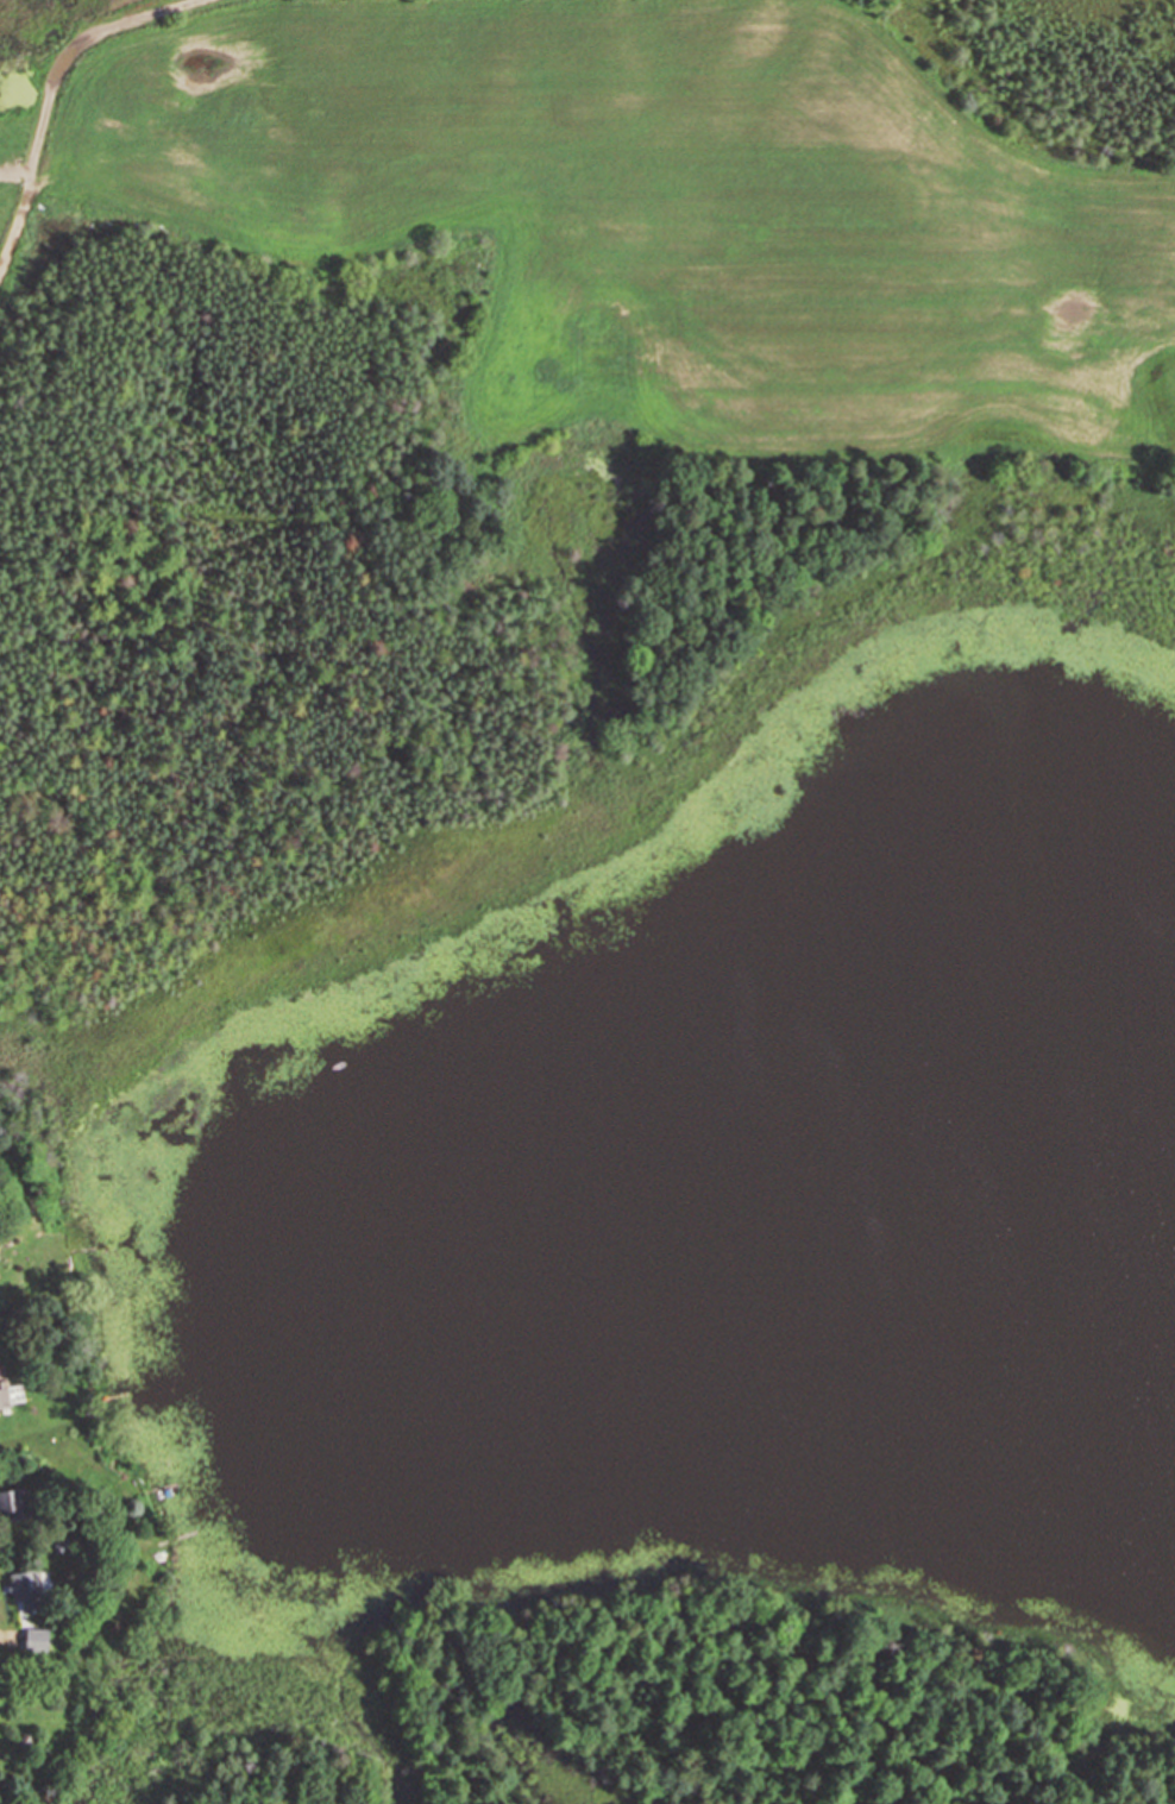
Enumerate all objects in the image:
building: (4, 1398)
building: (14, 1506)
building: (26, 1589)
building: (36, 1639)

